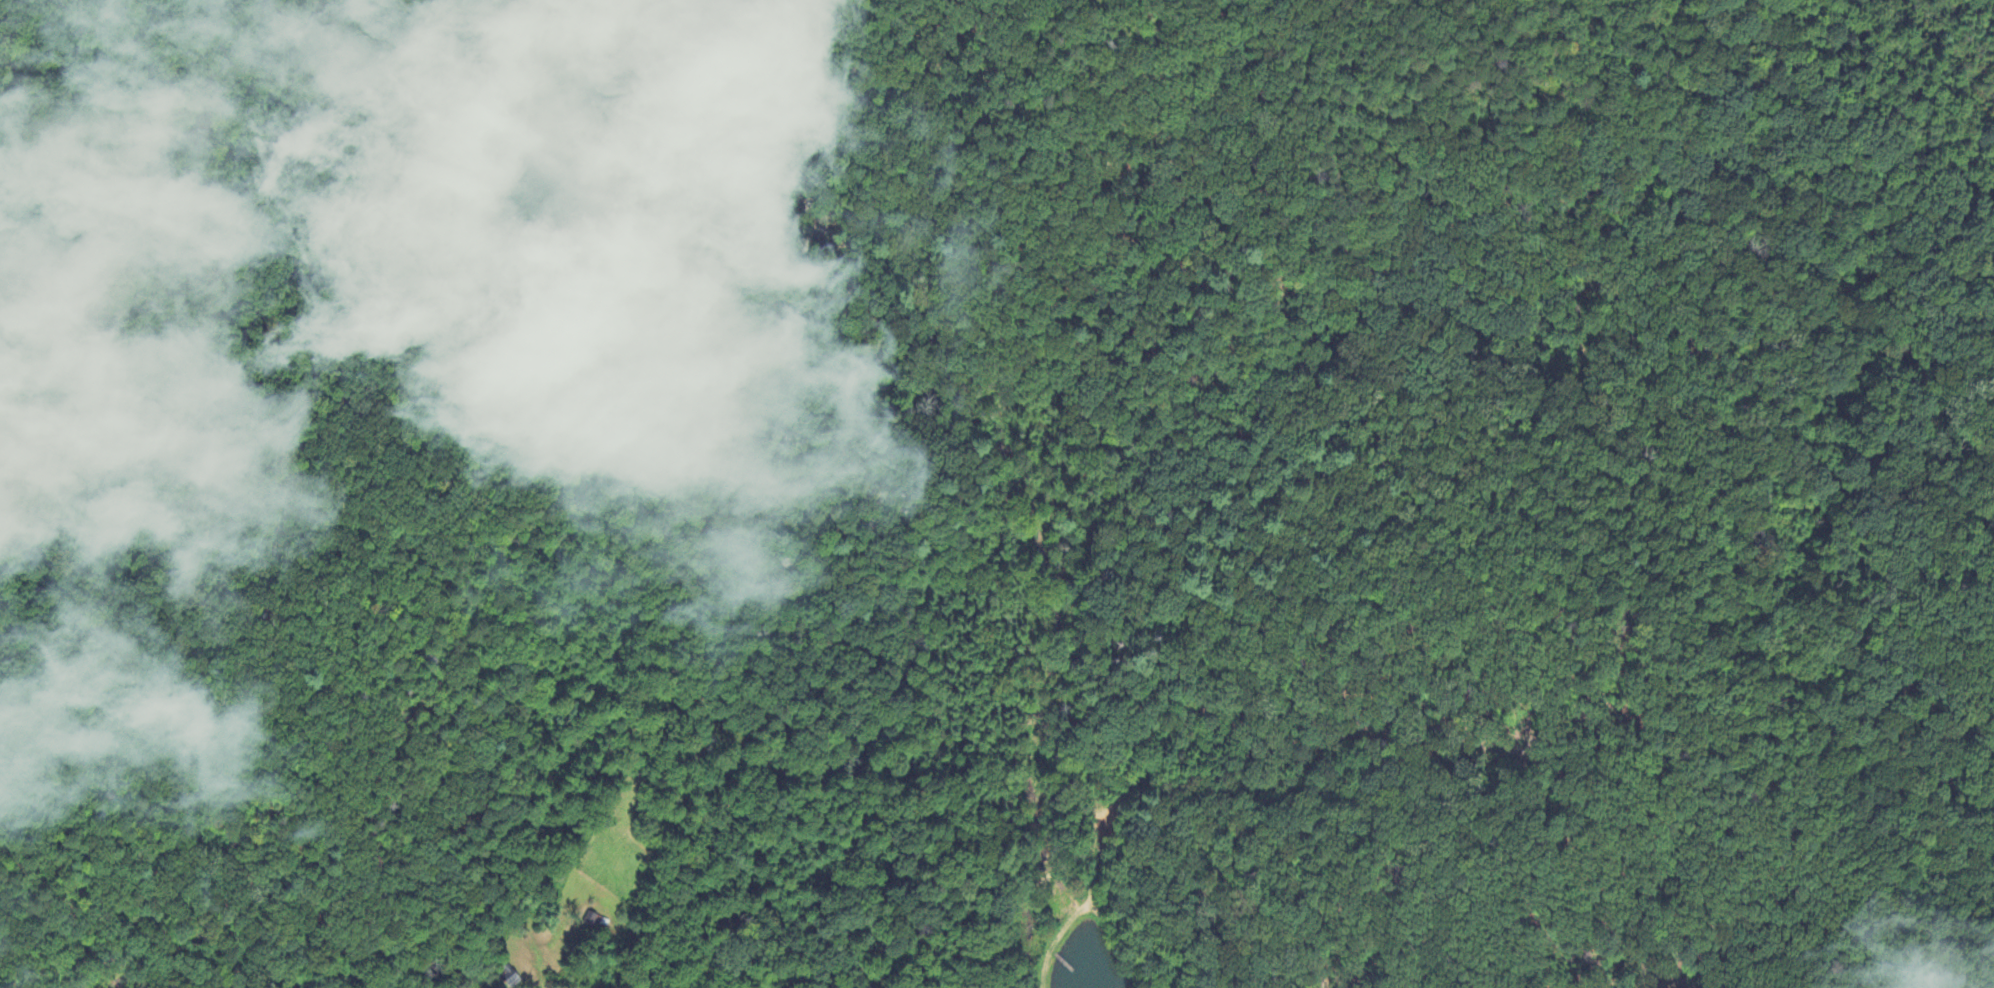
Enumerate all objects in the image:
road: (49, 182)
road: (1237, 525)
building: (596, 922)
road: (3, 964)
building: (504, 971)
road: (535, 981)

